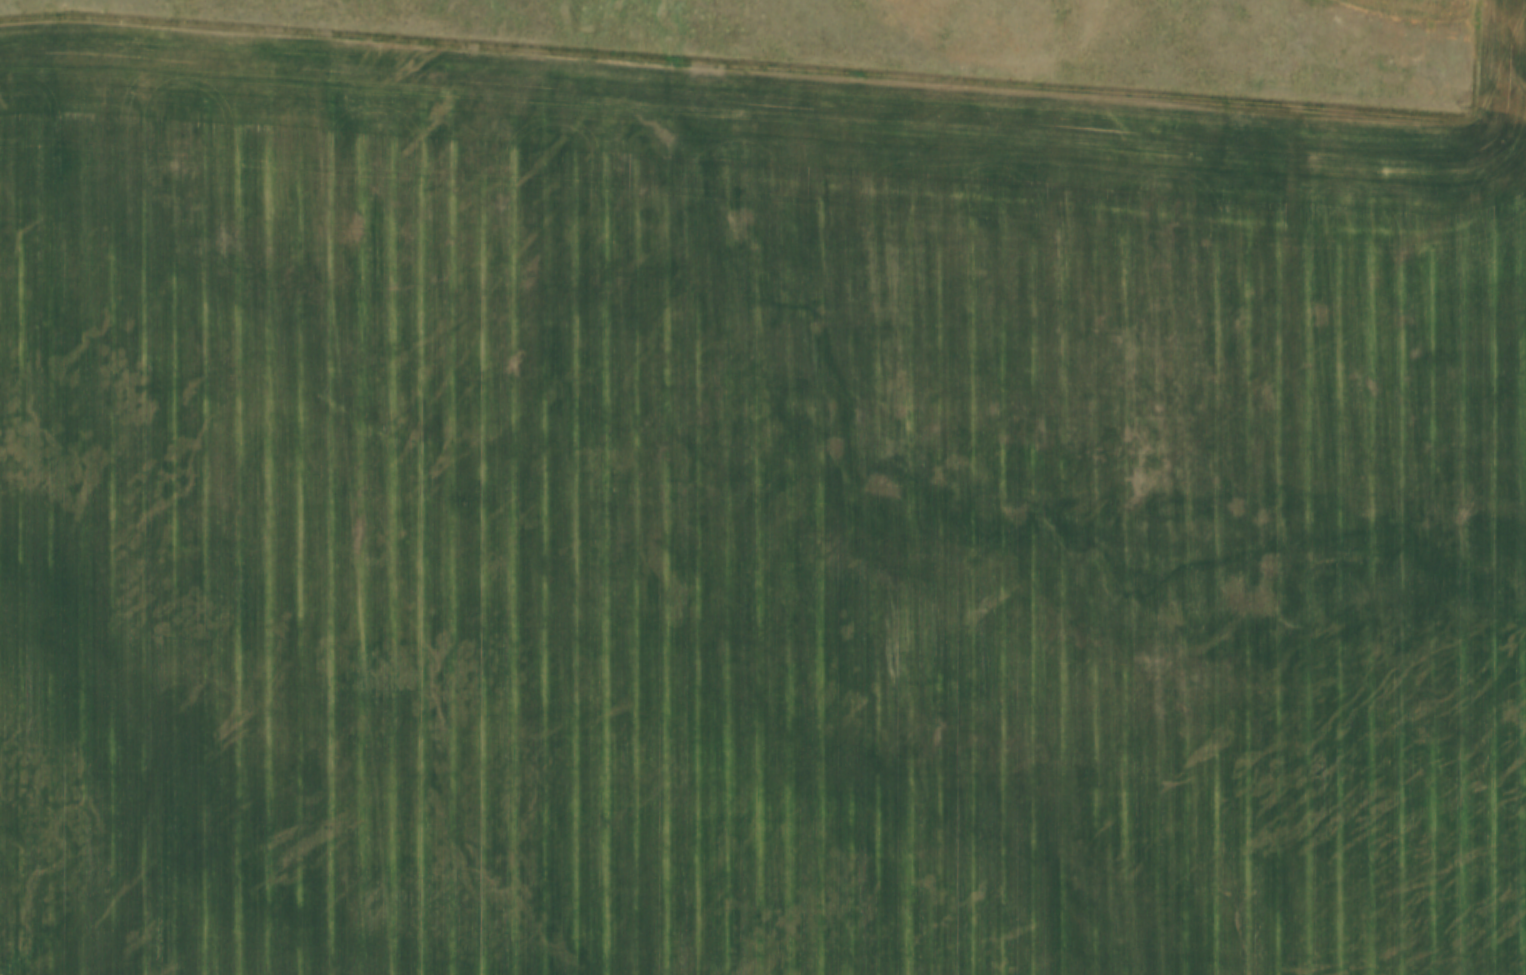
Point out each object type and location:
quarry: (1392, 0)

